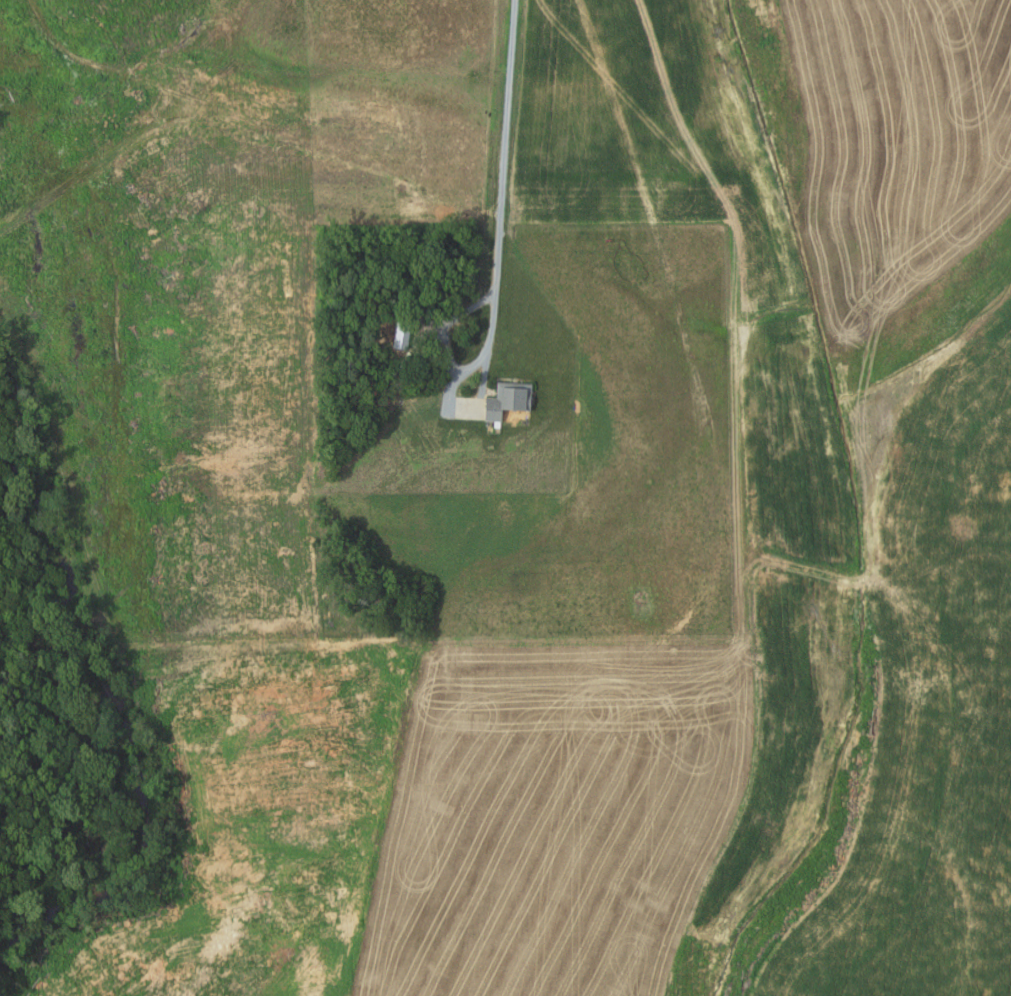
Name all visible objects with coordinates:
crop: (899, 139)
road: (505, 146)
building: (399, 336)
road: (451, 365)
building: (506, 400)
crop: (546, 652)
crop: (933, 709)

